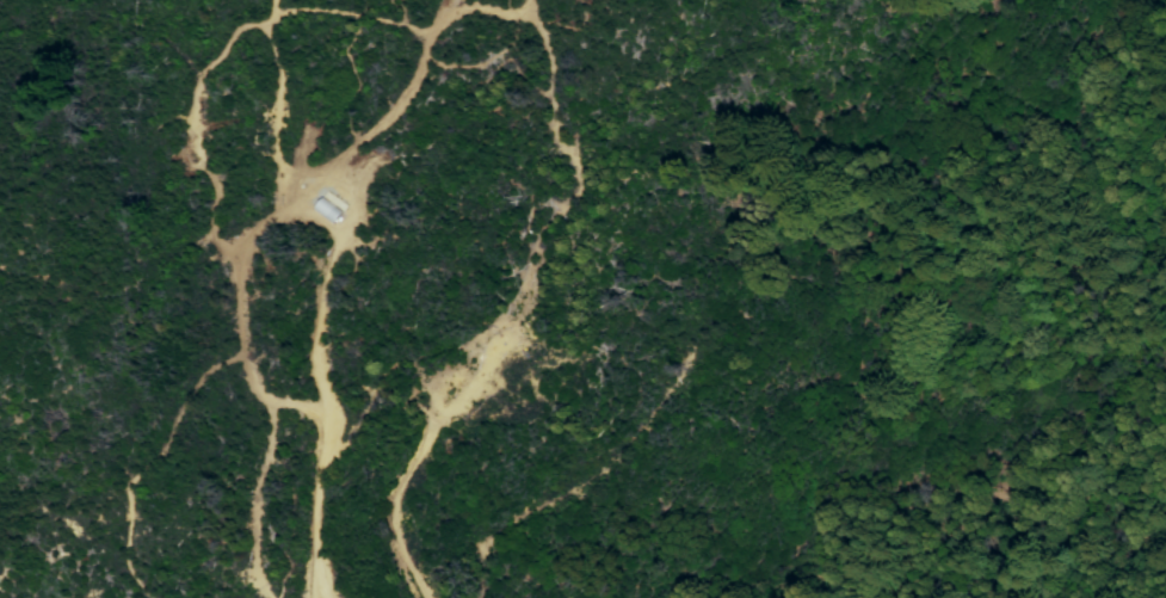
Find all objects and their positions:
road: (338, 161)
road: (326, 290)
road: (274, 403)

